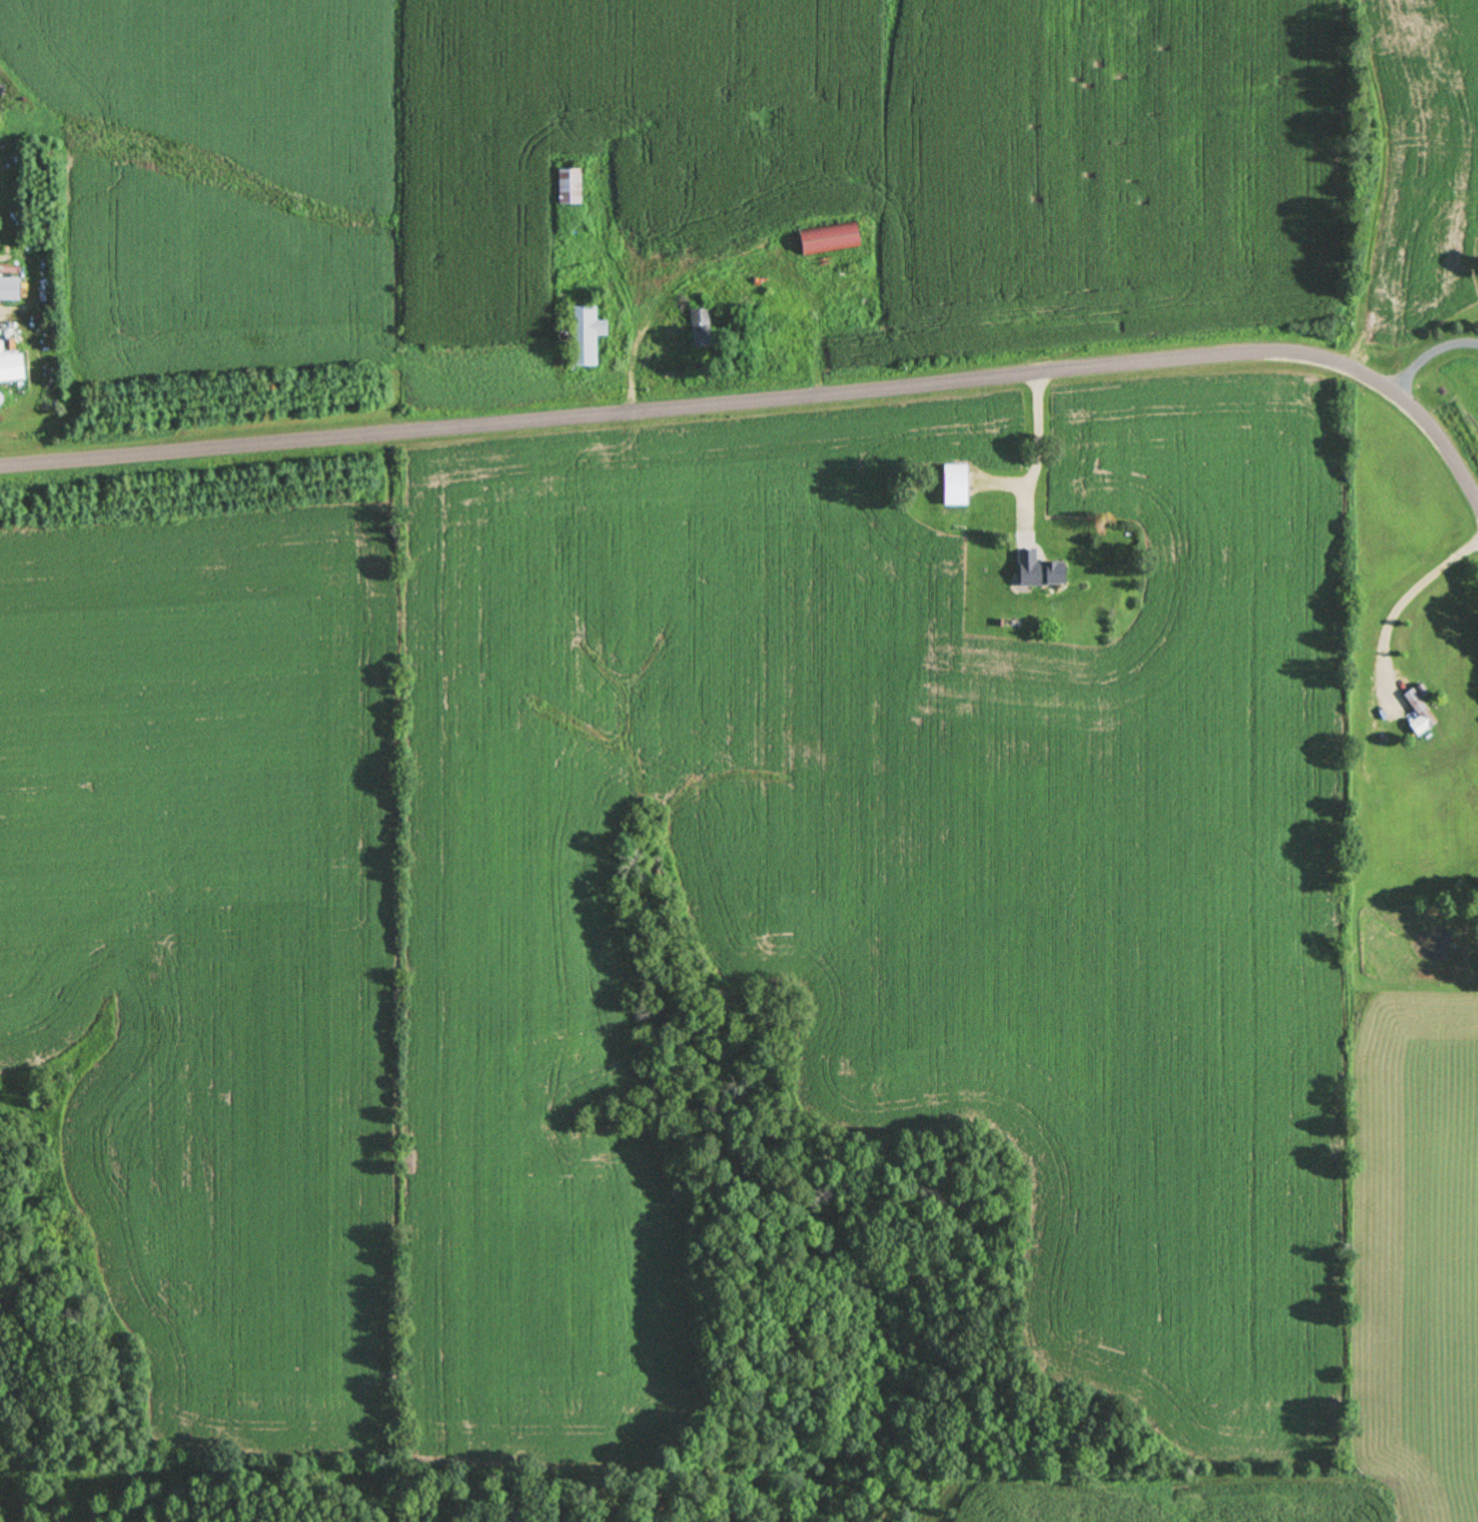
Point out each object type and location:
building: (566, 187)
building: (828, 239)
building: (10, 288)
building: (778, 310)
building: (698, 332)
building: (584, 335)
building: (783, 341)
road: (1428, 353)
building: (9, 361)
building: (1, 398)
road: (769, 398)
building: (953, 485)
building: (1034, 570)
road: (1401, 604)
building: (1417, 712)

